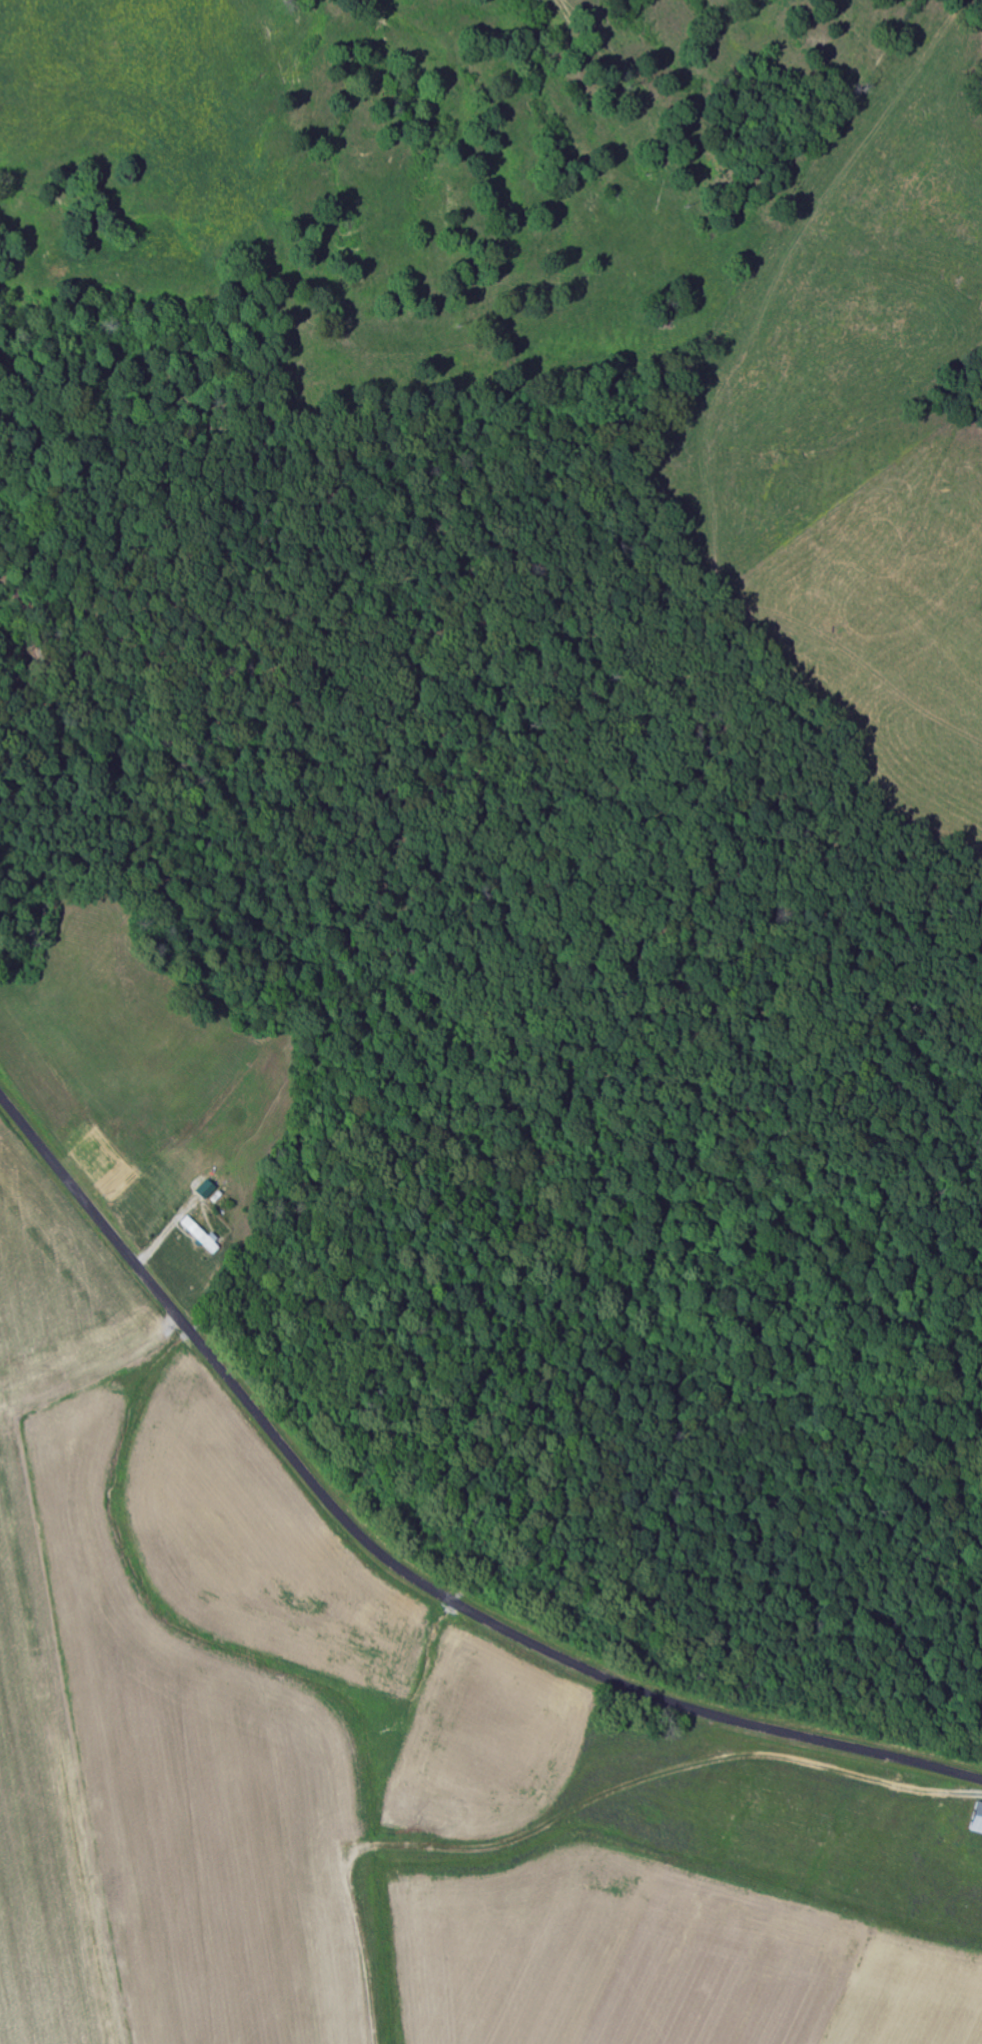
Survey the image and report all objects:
building: (209, 1190)
building: (203, 1235)
road: (404, 1566)
building: (979, 1820)

